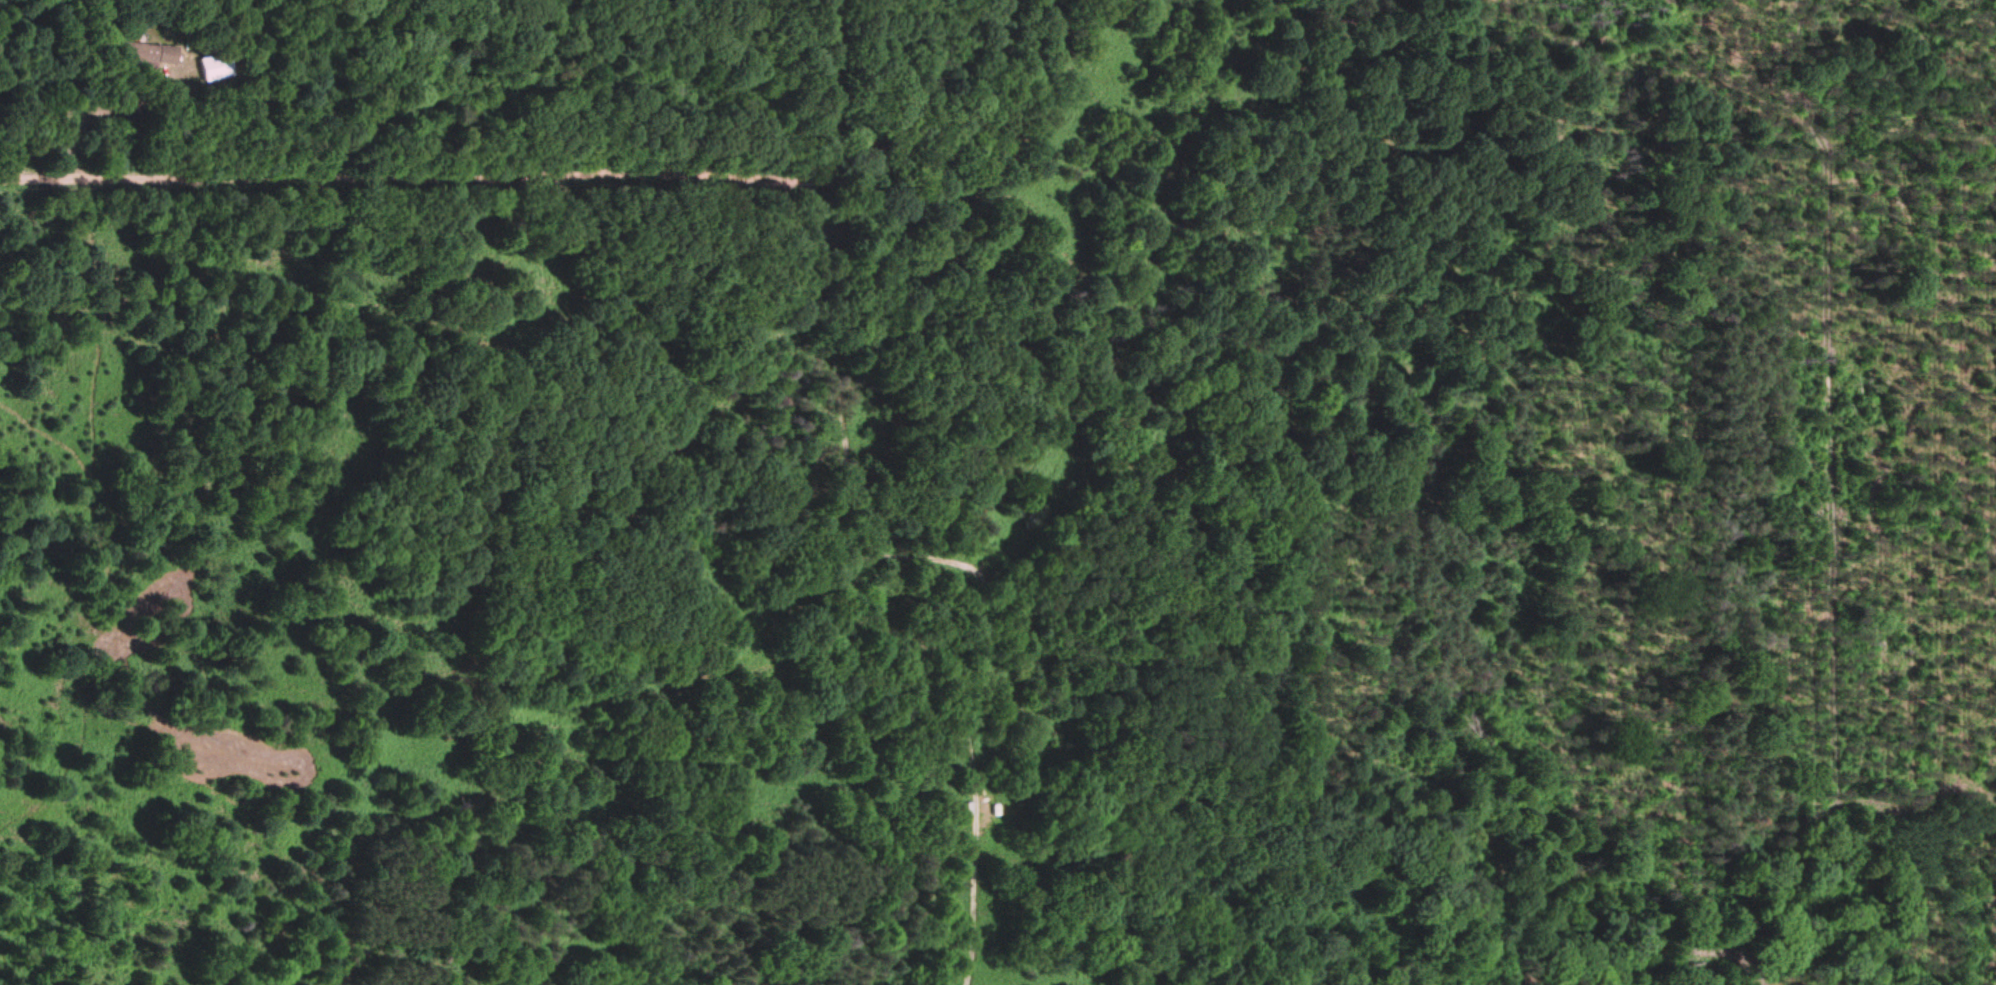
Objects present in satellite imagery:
road: (504, 184)

